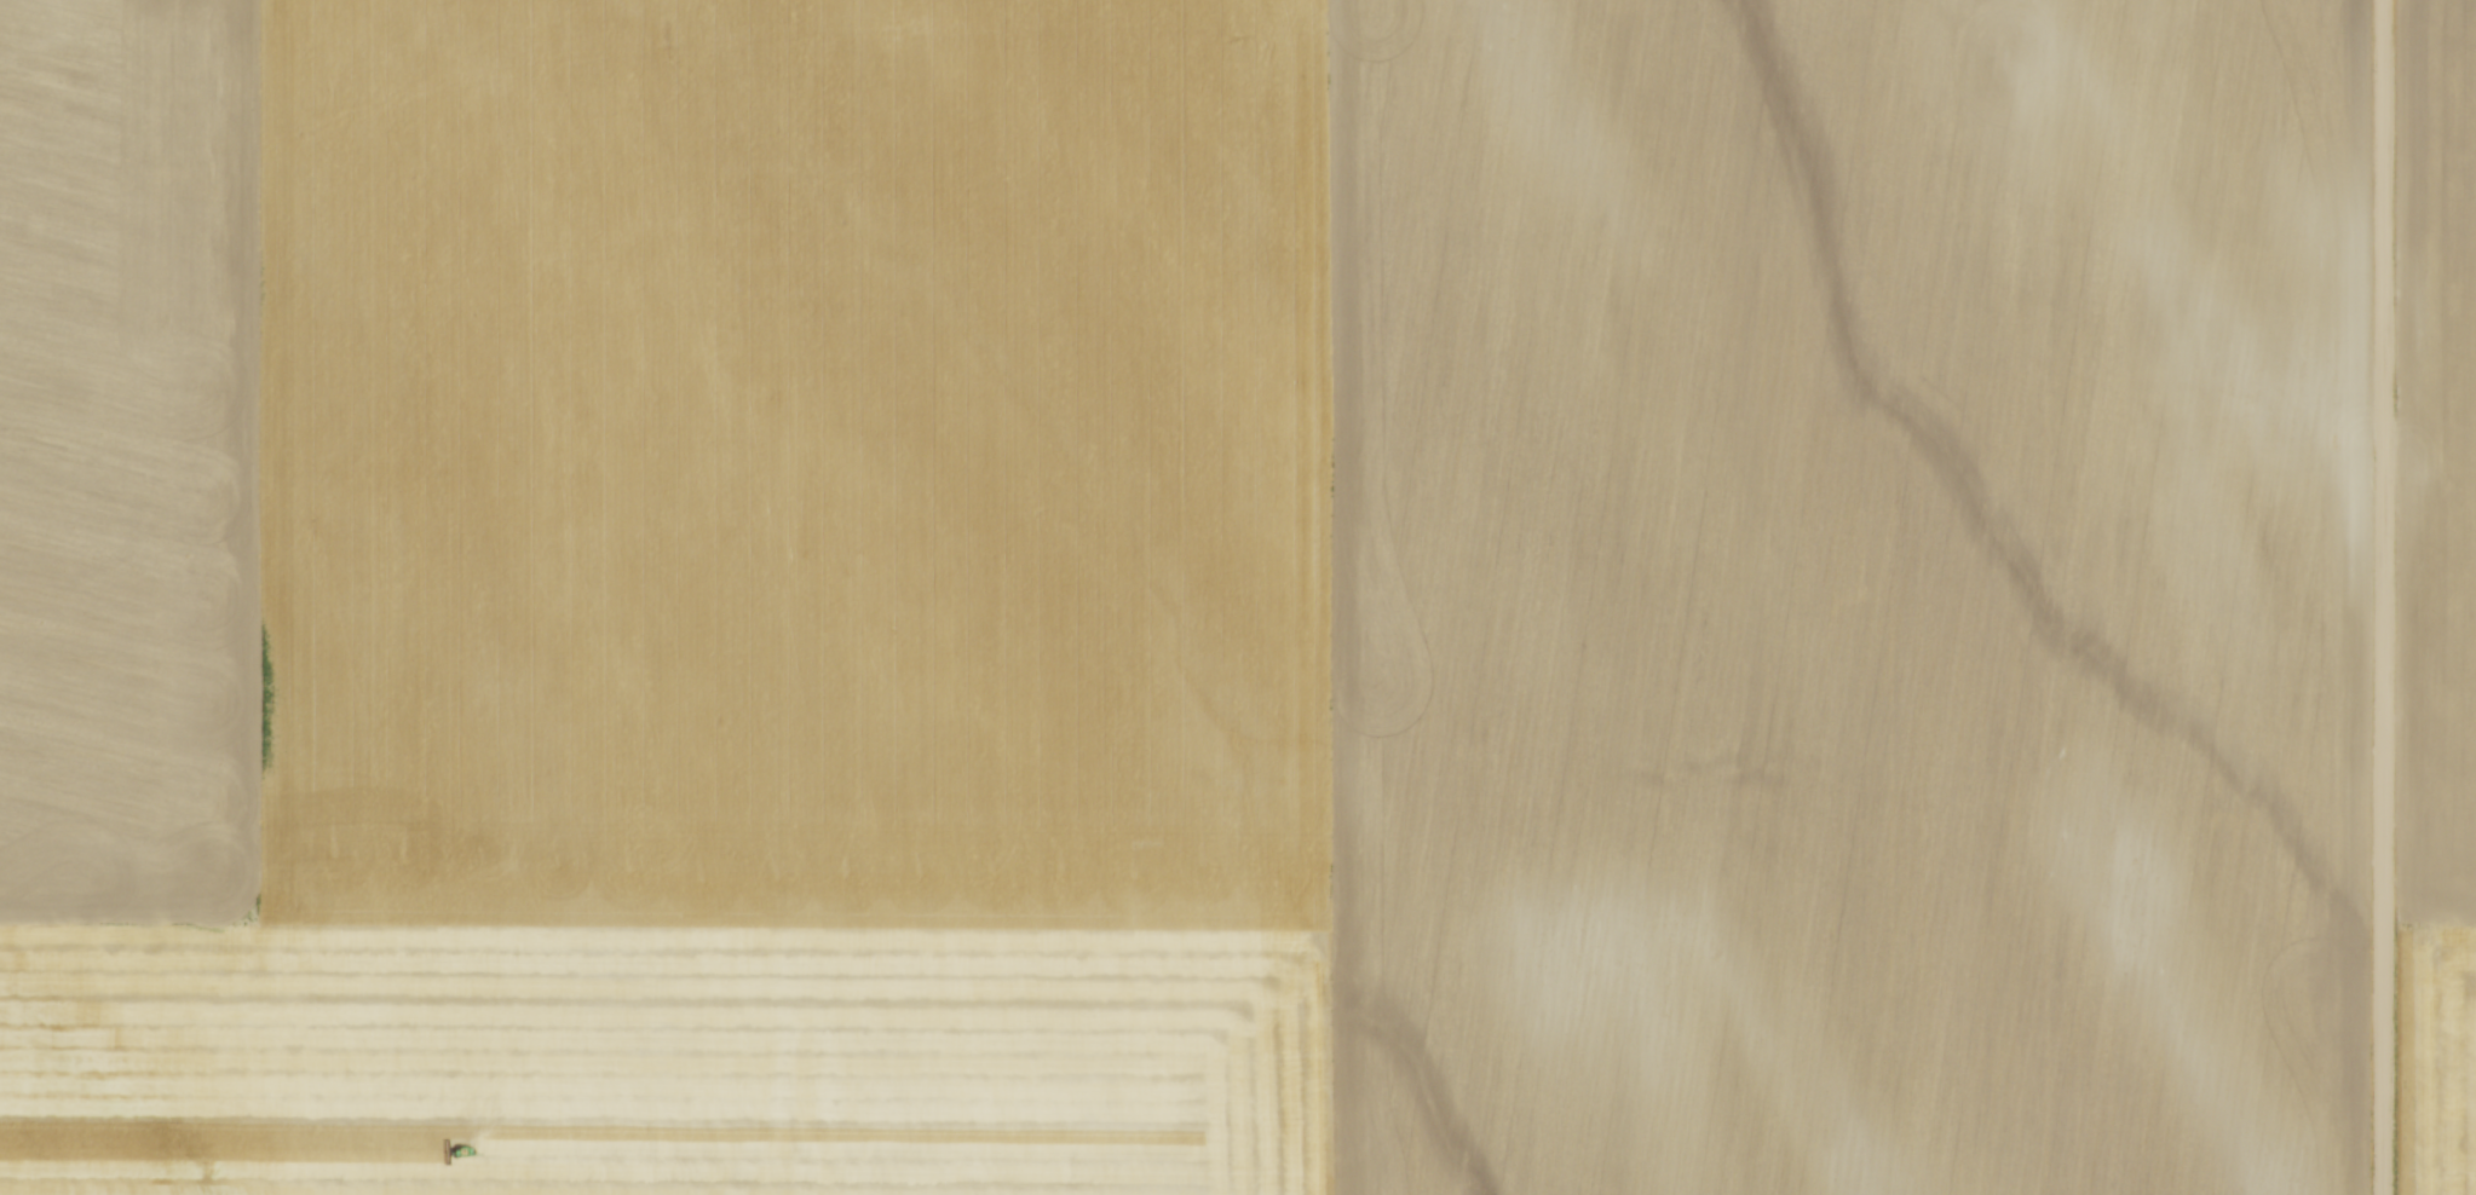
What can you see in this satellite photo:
crop: (1181, 596)
road: (2388, 597)
crop: (2438, 602)

